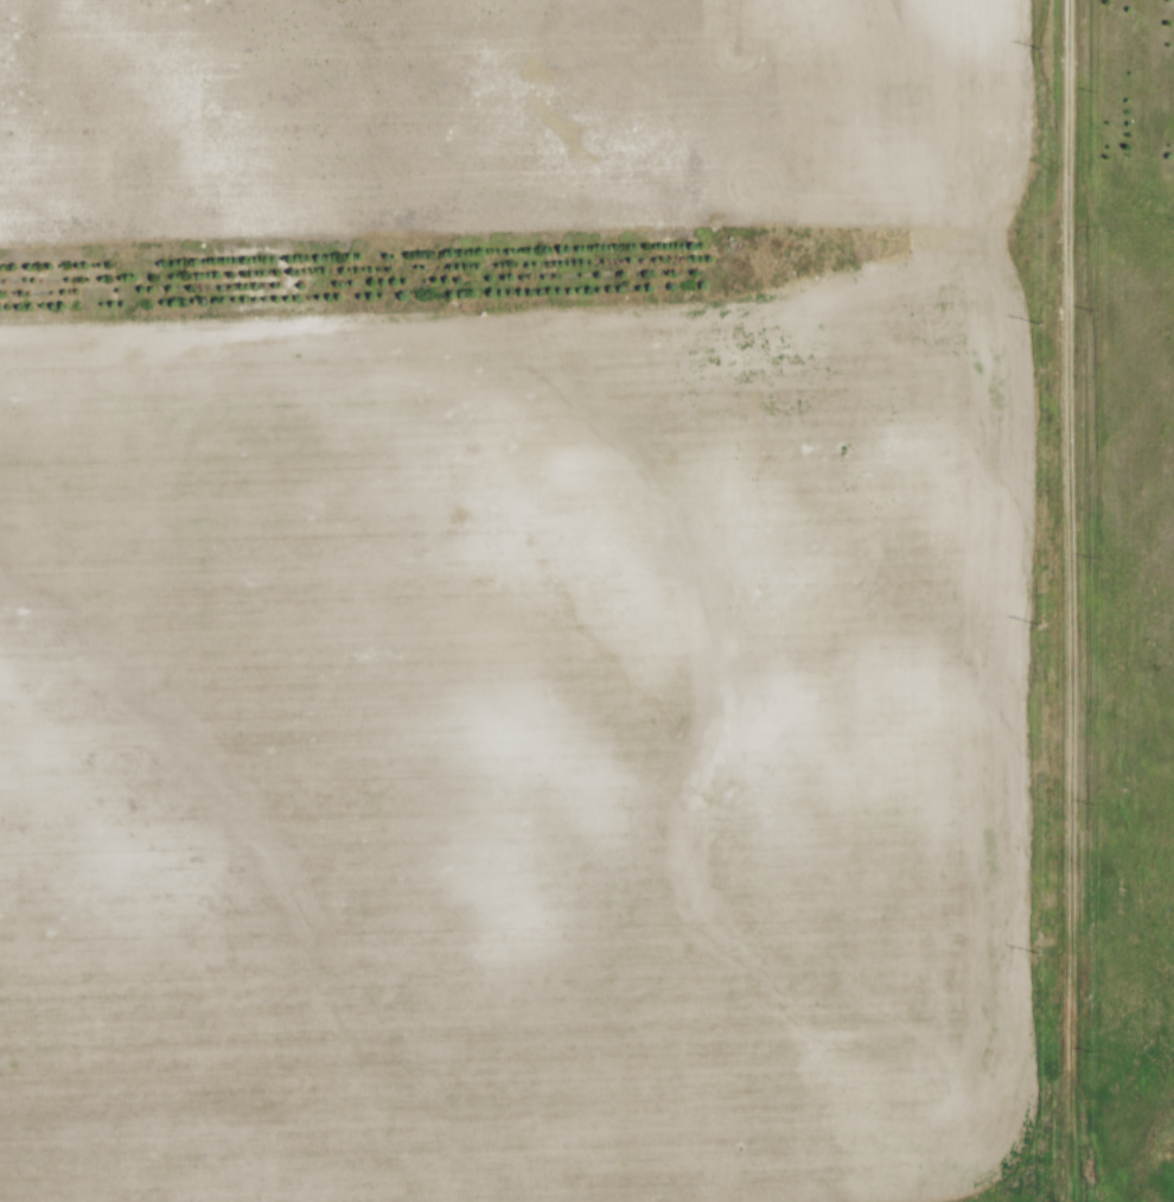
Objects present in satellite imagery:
road: (1068, 600)

